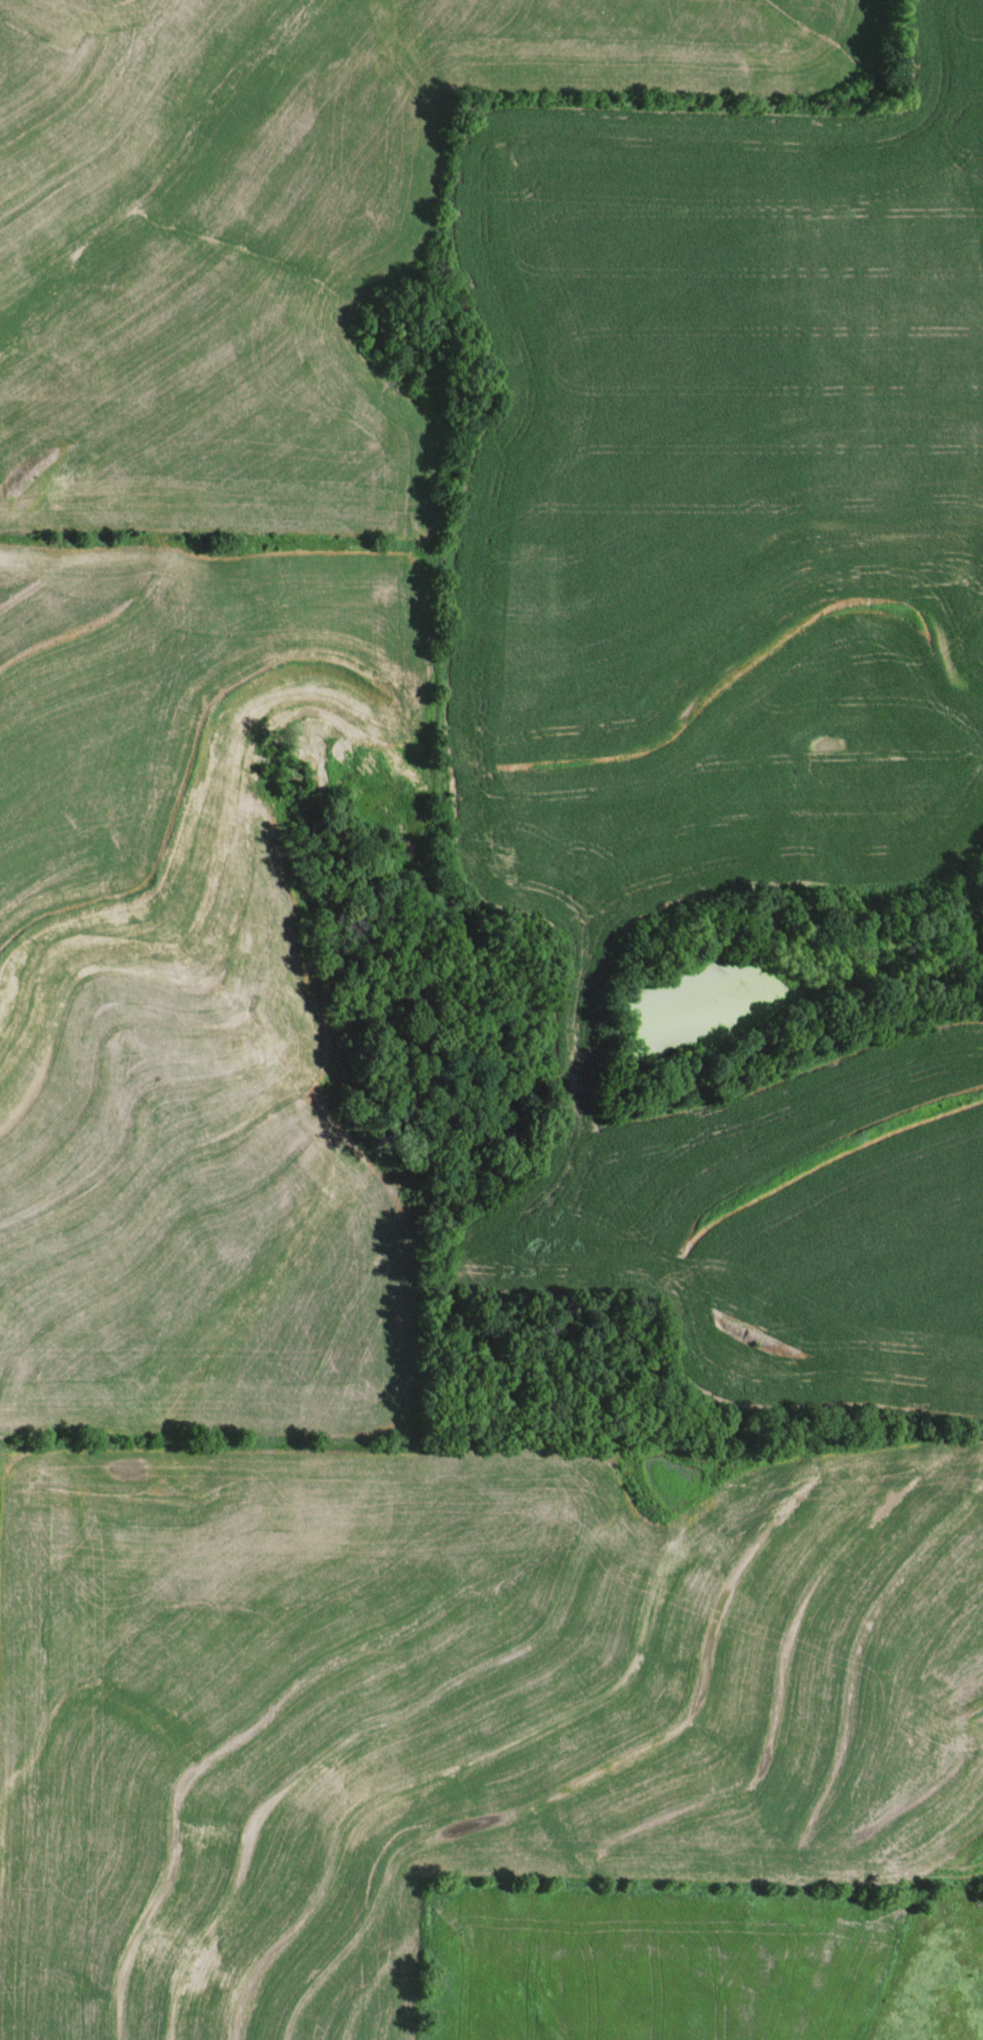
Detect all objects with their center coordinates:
park: (543, 1367)

